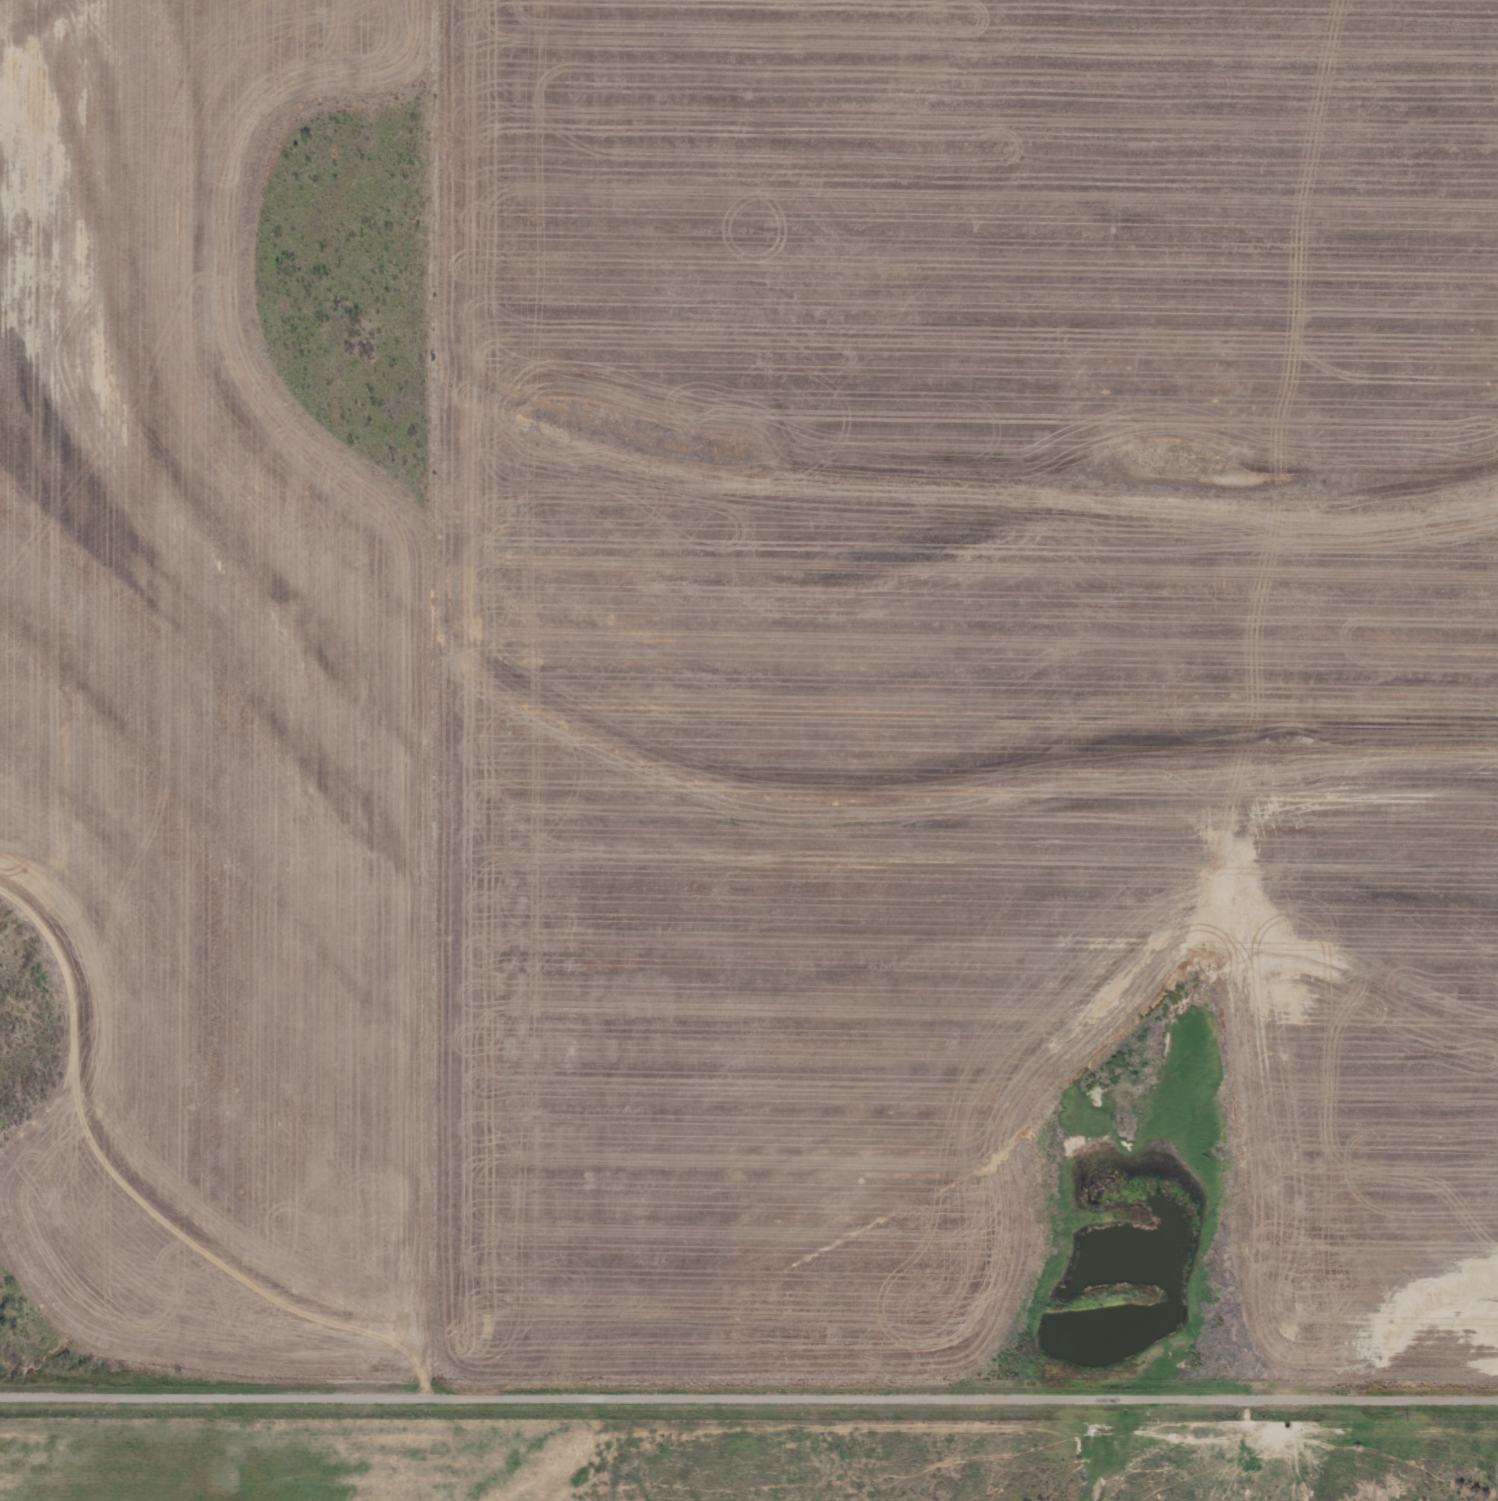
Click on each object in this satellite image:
road: (749, 1396)

